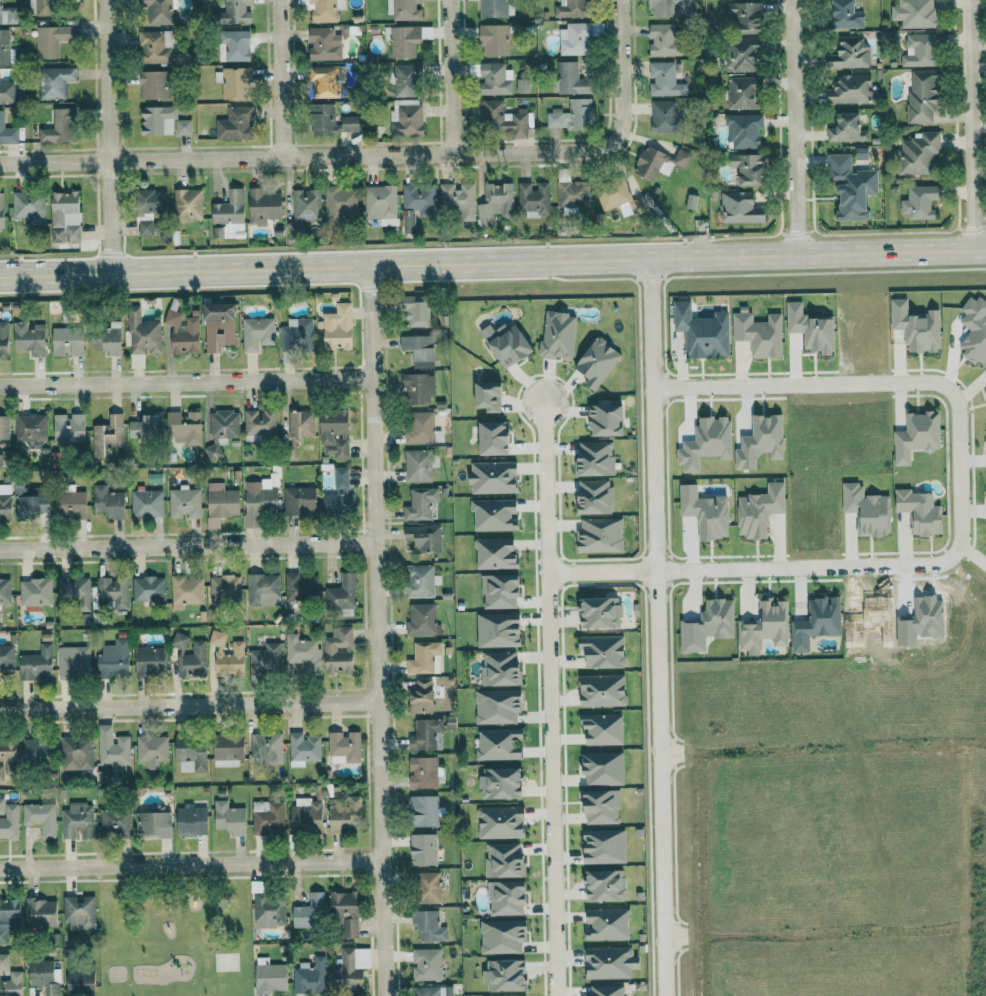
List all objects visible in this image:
building: (41, 7)
building: (495, 8)
building: (664, 8)
building: (572, 9)
building: (324, 10)
building: (404, 10)
building: (157, 11)
building: (233, 13)
building: (914, 13)
building: (7, 15)
building: (845, 15)
building: (745, 16)
building: (577, 38)
building: (664, 39)
building: (51, 40)
building: (494, 40)
building: (404, 41)
building: (324, 44)
building: (155, 46)
building: (235, 46)
building: (4, 47)
building: (919, 50)
building: (850, 53)
building: (743, 54)
road: (622, 69)
road: (451, 77)
building: (573, 78)
road: (281, 79)
building: (495, 79)
building: (326, 80)
building: (405, 80)
building: (665, 80)
building: (55, 82)
building: (232, 82)
building: (153, 85)
building: (522, 85)
building: (850, 89)
building: (7, 92)
building: (743, 93)
building: (923, 96)
building: (572, 115)
building: (666, 116)
building: (406, 118)
building: (502, 119)
building: (158, 120)
building: (332, 121)
building: (235, 124)
road: (976, 126)
building: (59, 127)
building: (183, 127)
road: (798, 129)
building: (847, 129)
building: (744, 130)
building: (7, 132)
road: (108, 136)
building: (918, 154)
road: (311, 157)
building: (658, 161)
building: (749, 168)
building: (851, 187)
building: (574, 194)
building: (534, 197)
building: (623, 198)
building: (420, 199)
building: (691, 201)
building: (920, 202)
building: (340, 203)
building: (381, 204)
building: (495, 204)
building: (188, 205)
building: (306, 205)
building: (263, 206)
building: (29, 207)
building: (741, 208)
building: (1, 210)
building: (150, 211)
building: (65, 217)
building: (408, 221)
road: (493, 263)
building: (416, 310)
building: (219, 326)
building: (338, 327)
building: (916, 327)
building: (975, 330)
building: (703, 332)
building: (183, 333)
building: (257, 333)
building: (758, 333)
building: (142, 334)
building: (297, 335)
building: (558, 335)
building: (29, 338)
building: (4, 339)
building: (108, 339)
building: (67, 341)
building: (507, 344)
building: (419, 350)
building: (597, 362)
road: (186, 381)
road: (833, 382)
building: (417, 389)
building: (489, 396)
building: (606, 420)
building: (259, 423)
building: (224, 424)
building: (30, 427)
building: (146, 427)
building: (4, 428)
building: (69, 428)
building: (184, 428)
building: (299, 428)
building: (420, 428)
building: (108, 434)
building: (326, 436)
building: (917, 436)
building: (494, 438)
building: (761, 441)
building: (212, 452)
building: (594, 458)
building: (418, 465)
building: (493, 477)
building: (340, 493)
building: (595, 497)
building: (31, 500)
building: (299, 500)
building: (109, 502)
building: (147, 503)
building: (185, 503)
building: (221, 504)
building: (420, 504)
building: (70, 505)
building: (759, 510)
building: (867, 510)
building: (920, 511)
building: (705, 512)
building: (495, 514)
building: (600, 535)
building: (424, 538)
road: (187, 547)
building: (496, 553)
road: (857, 565)
road: (601, 569)
building: (420, 581)
building: (300, 587)
building: (225, 589)
building: (148, 590)
building: (263, 590)
building: (5, 591)
building: (74, 591)
building: (186, 591)
building: (500, 591)
building: (35, 592)
building: (114, 592)
building: (342, 594)
building: (600, 613)
building: (422, 620)
building: (816, 622)
building: (708, 626)
building: (765, 627)
road: (656, 628)
building: (498, 630)
road: (376, 631)
building: (180, 642)
building: (339, 651)
building: (604, 651)
building: (302, 653)
building: (227, 656)
building: (425, 659)
building: (114, 660)
building: (265, 660)
building: (150, 661)
building: (193, 661)
building: (73, 663)
building: (37, 665)
building: (500, 669)
building: (603, 690)
road: (548, 696)
building: (422, 697)
road: (189, 705)
building: (498, 706)
building: (603, 730)
building: (426, 735)
building: (500, 745)
building: (267, 746)
building: (344, 748)
building: (112, 749)
building: (303, 749)
building: (152, 750)
building: (228, 750)
building: (36, 752)
building: (190, 754)
building: (7, 755)
building: (76, 755)
building: (603, 769)
building: (422, 773)
building: (501, 784)
building: (319, 793)
building: (602, 807)
building: (424, 812)
building: (346, 814)
building: (307, 816)
building: (40, 818)
building: (229, 818)
building: (267, 818)
building: (8, 821)
building: (77, 821)
building: (191, 821)
building: (115, 822)
building: (501, 823)
building: (154, 825)
building: (604, 847)
building: (423, 850)
building: (504, 861)
road: (191, 863)
building: (605, 886)
building: (426, 888)
building: (507, 898)
building: (309, 911)
building: (79, 912)
building: (346, 912)
building: (40, 913)
building: (9, 918)
building: (607, 924)
building: (428, 926)
park: (176, 929)
building: (502, 937)
building: (3, 962)
building: (610, 963)
building: (426, 964)
building: (346, 971)
building: (43, 974)
building: (311, 976)
building: (505, 976)
building: (270, 977)
building: (80, 981)
building: (11, 984)
building: (606, 990)
building: (429, 991)

